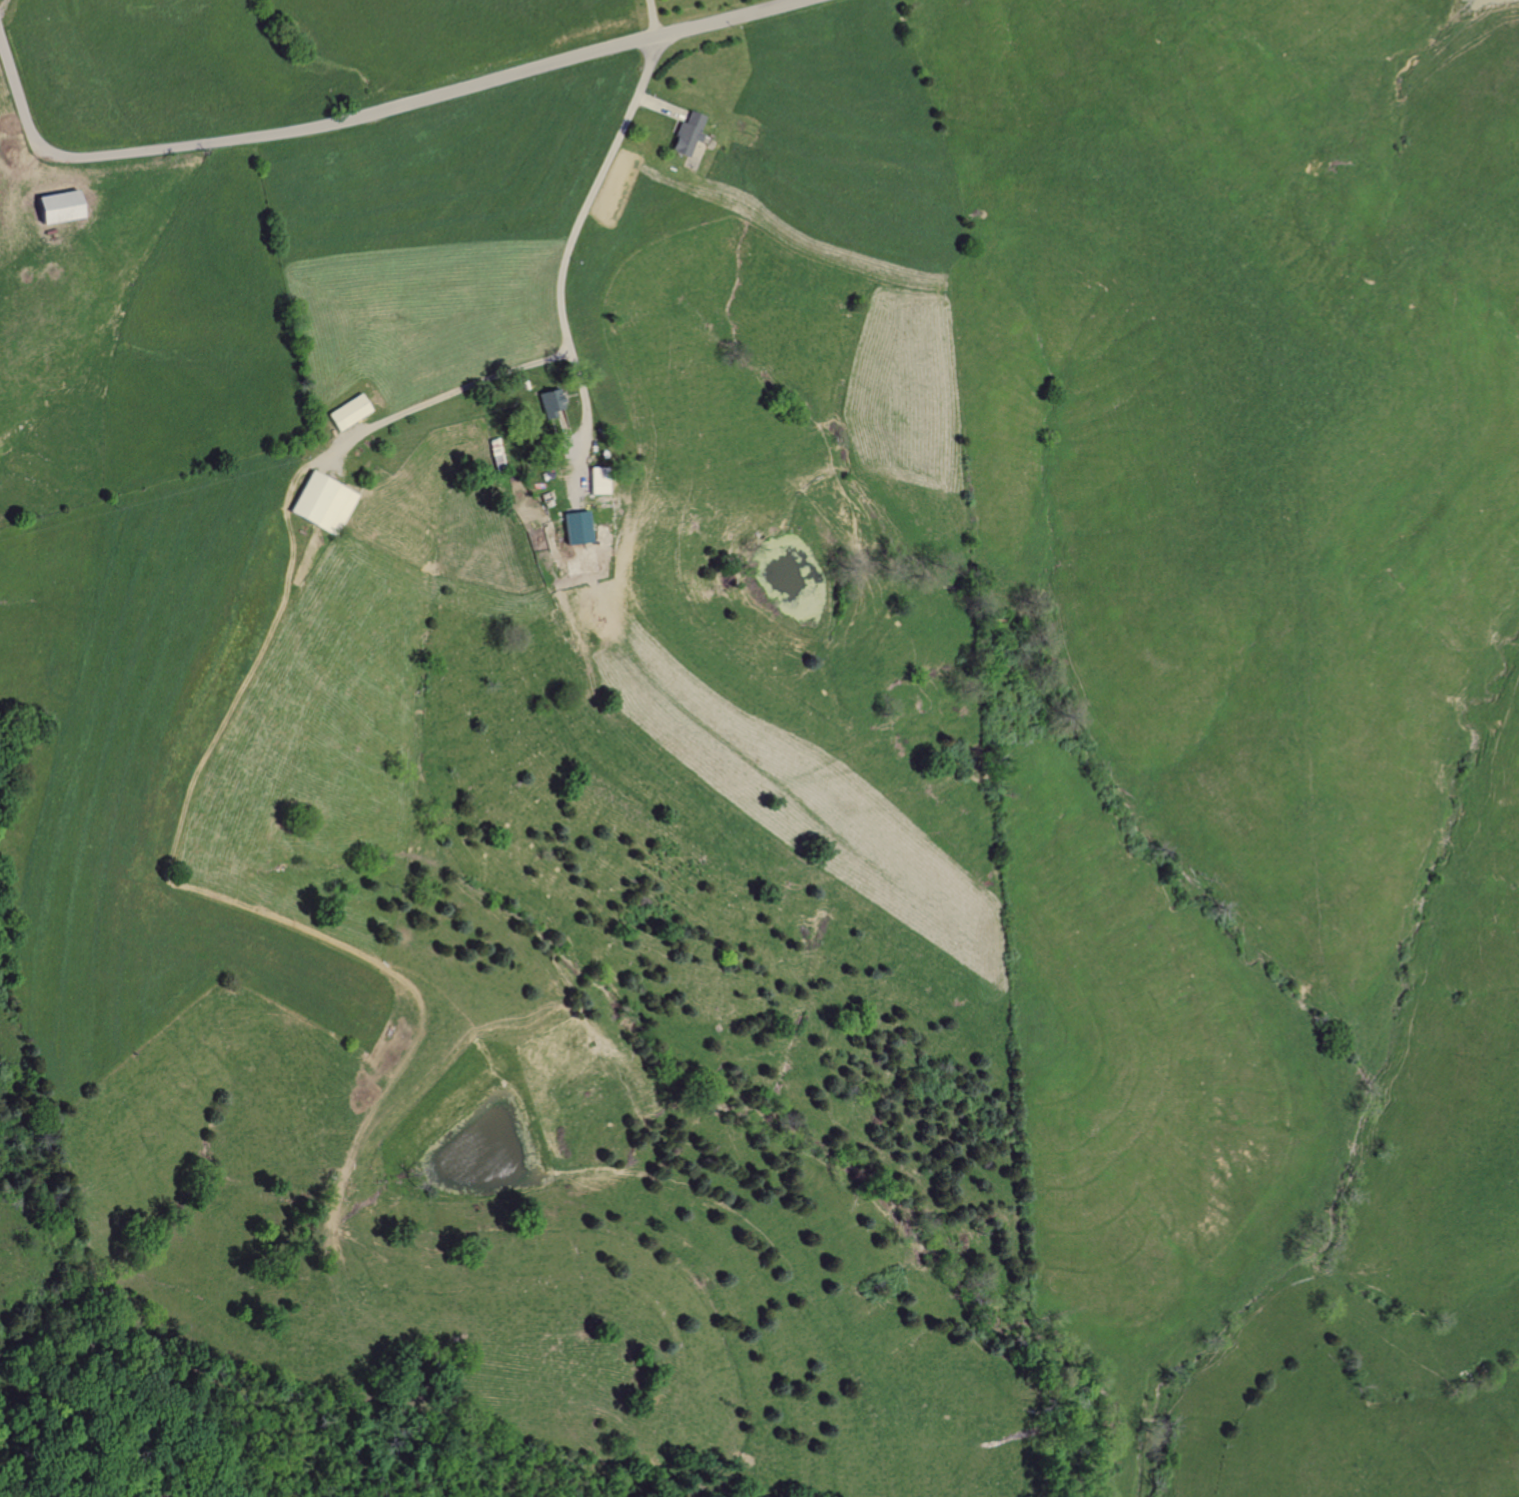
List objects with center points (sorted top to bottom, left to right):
road: (362, 117)
building: (685, 133)
building: (54, 206)
road: (570, 236)
road: (444, 395)
building: (549, 402)
building: (347, 412)
building: (596, 480)
building: (320, 501)
building: (574, 527)

